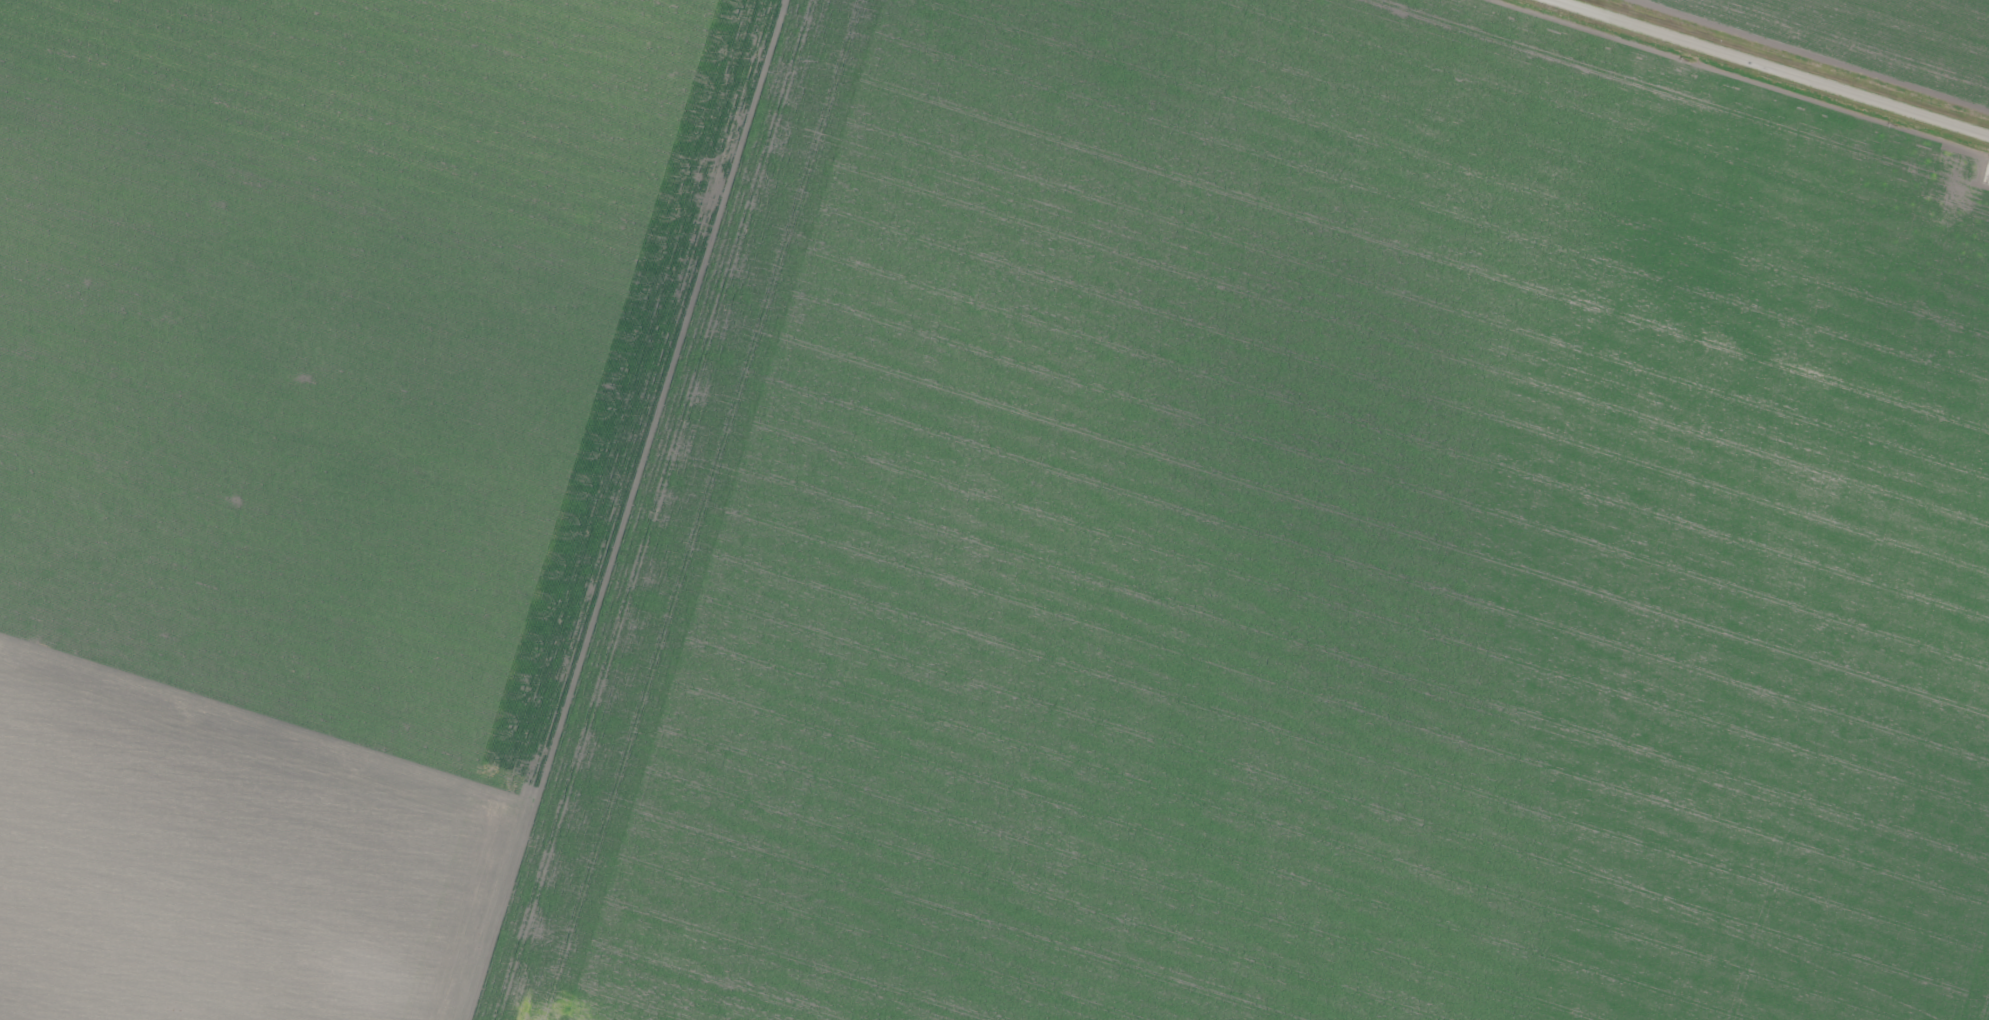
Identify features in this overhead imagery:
road: (1778, 65)

